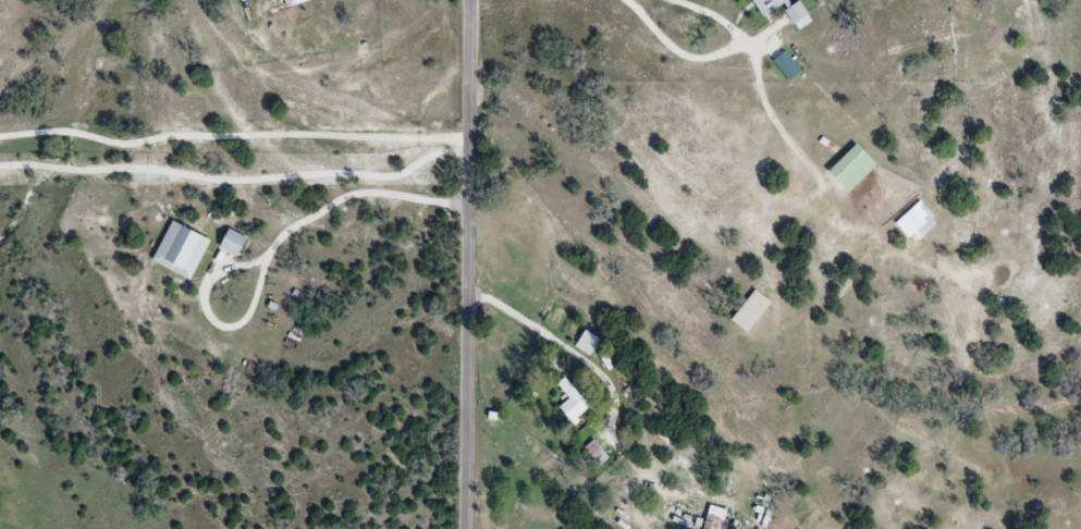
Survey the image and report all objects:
building: (295, 2)
road: (718, 10)
building: (790, 12)
road: (234, 139)
building: (846, 170)
road: (239, 182)
building: (919, 222)
building: (236, 244)
building: (184, 250)
road: (278, 256)
road: (470, 264)
building: (747, 312)
road: (525, 317)
building: (586, 344)
building: (569, 403)
building: (592, 454)
building: (712, 519)

